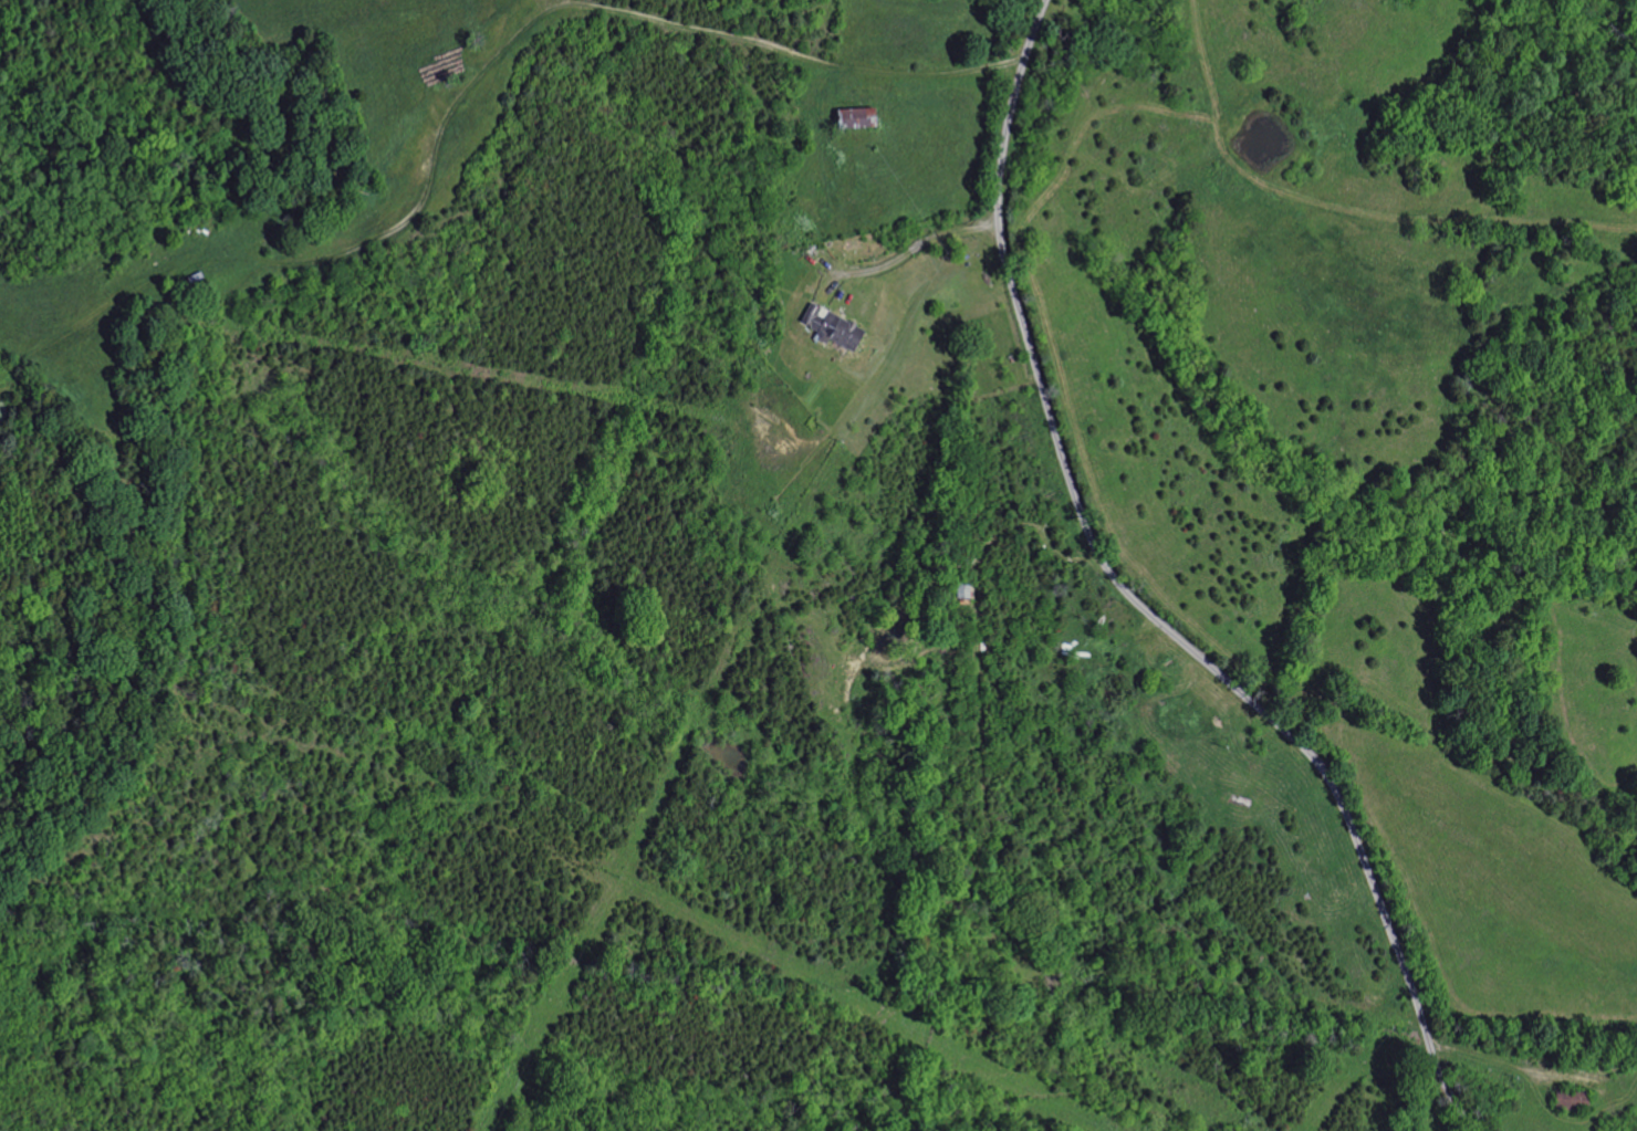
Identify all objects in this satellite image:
road: (938, 73)
building: (851, 118)
road: (913, 250)
building: (828, 328)
road: (1137, 604)

